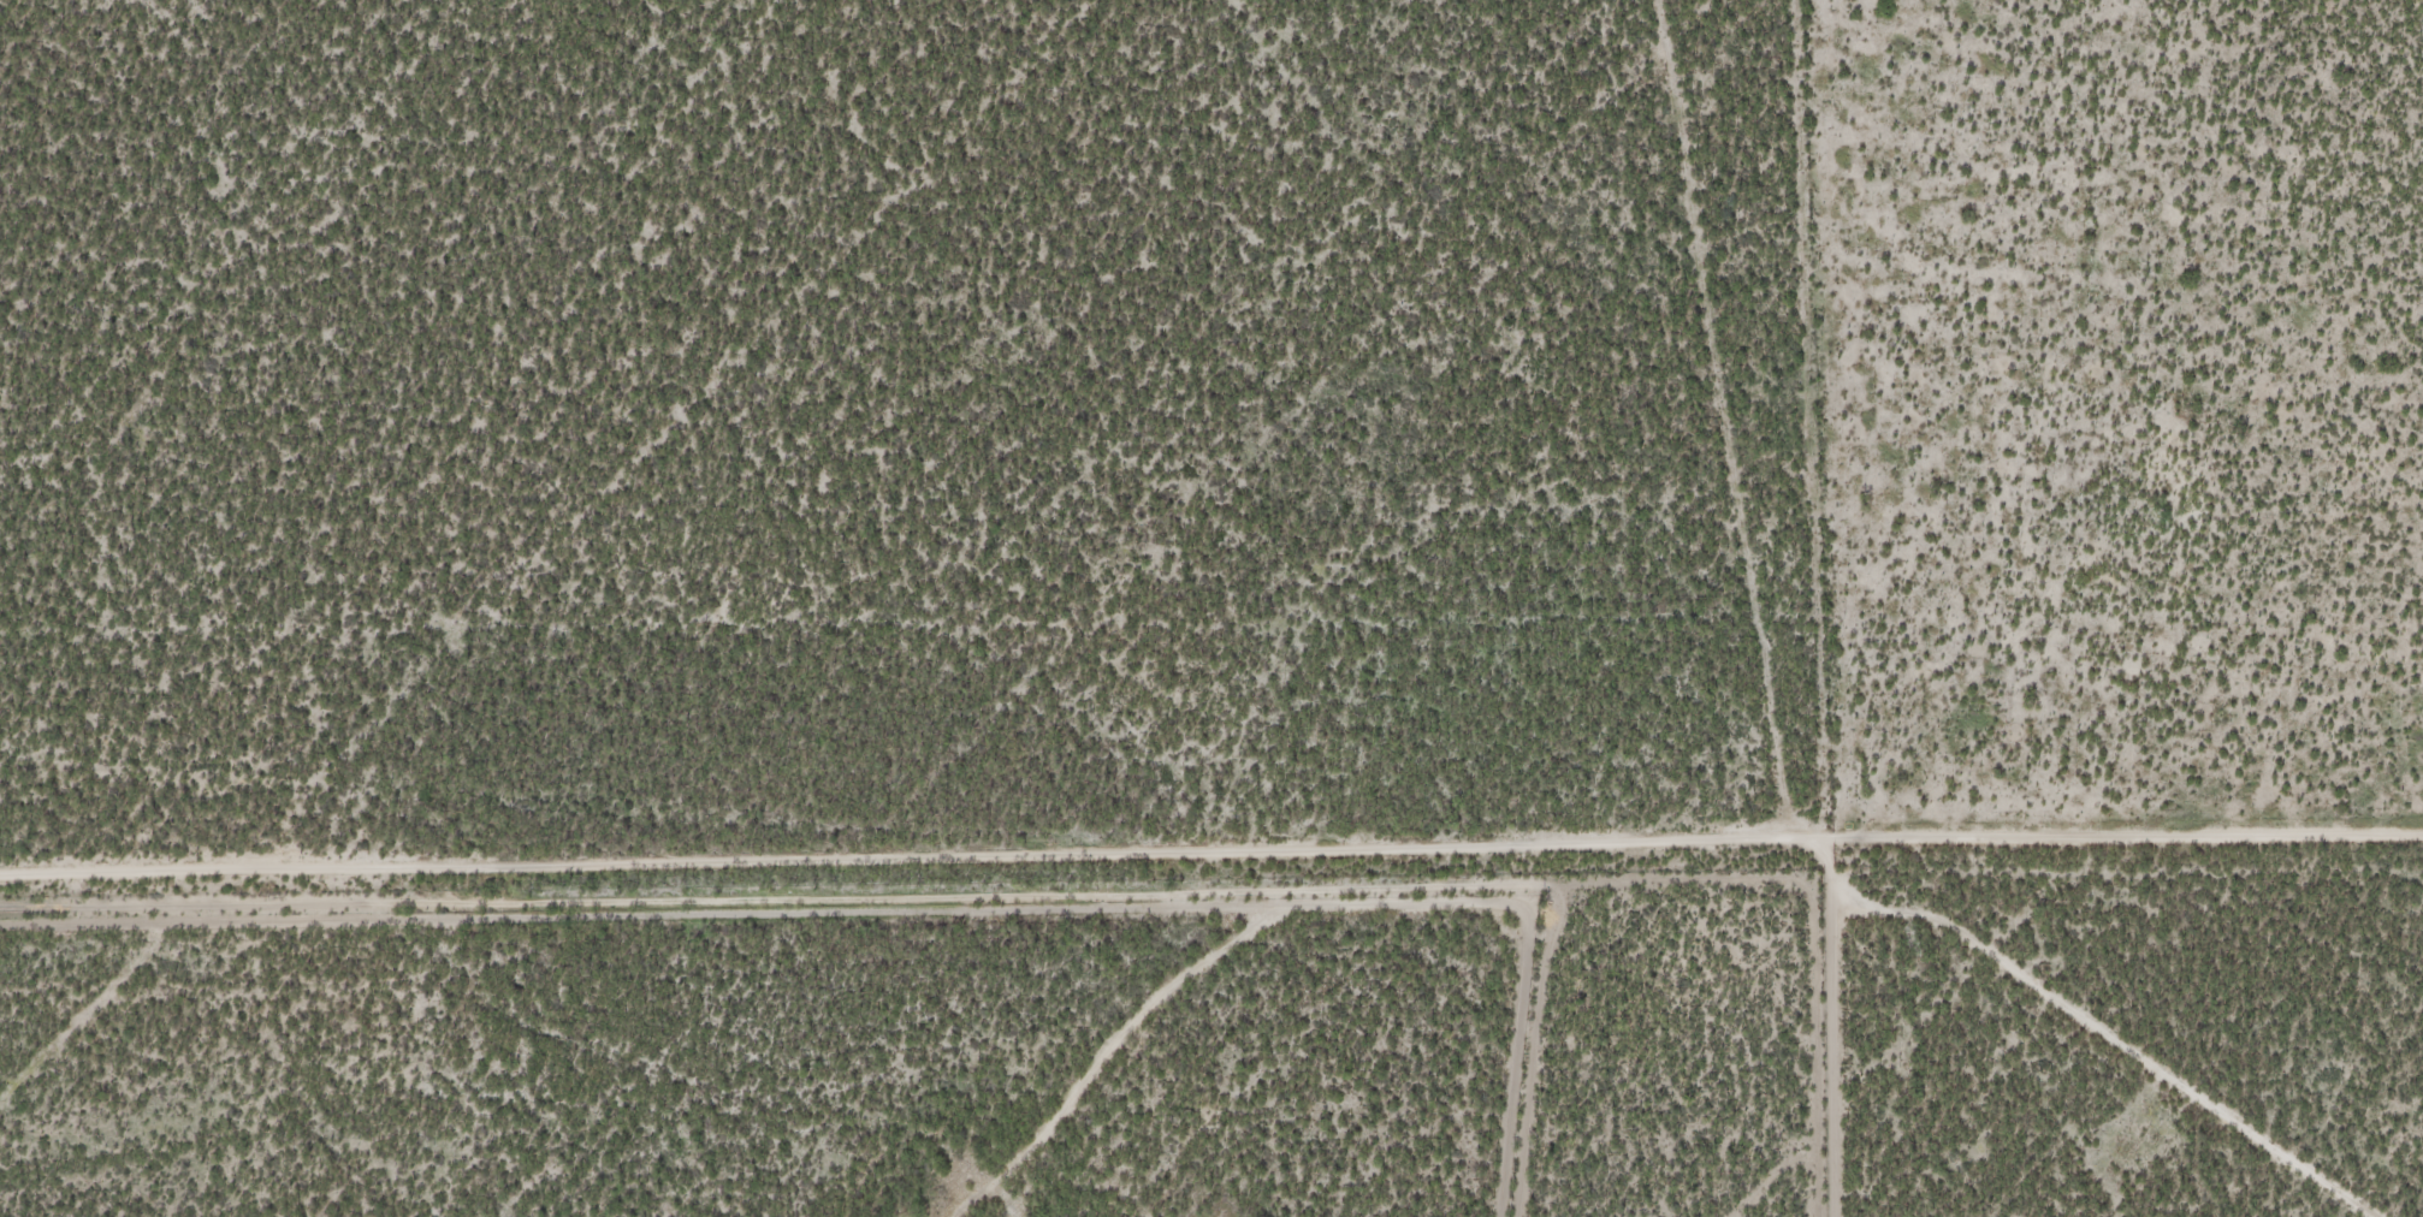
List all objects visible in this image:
road: (1210, 851)
road: (1912, 1019)
road: (2021, 1037)
airport: (766, 1052)

